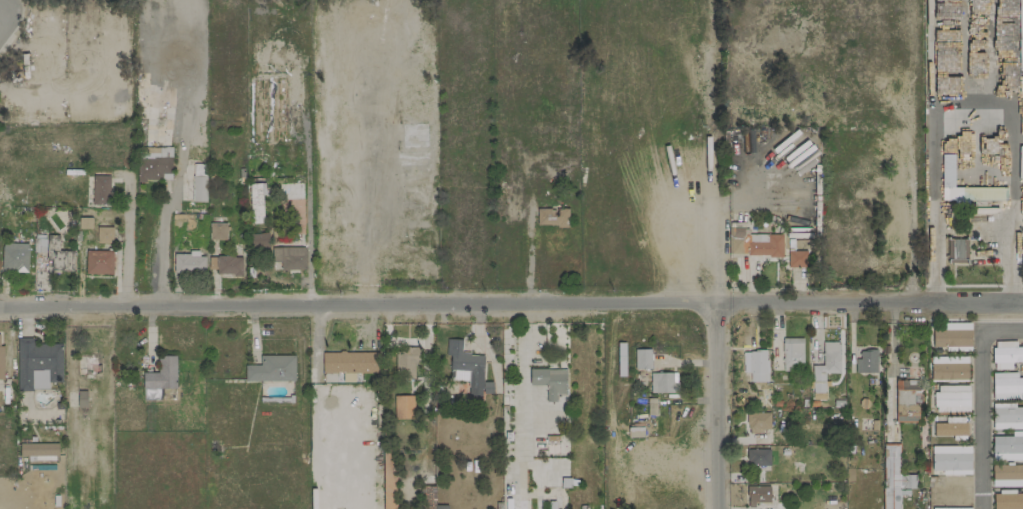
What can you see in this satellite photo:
building: (800, 129)
building: (154, 163)
road: (175, 182)
building: (199, 182)
building: (291, 188)
building: (101, 189)
building: (976, 193)
building: (256, 203)
building: (551, 217)
building: (896, 226)
building: (217, 231)
building: (104, 235)
building: (40, 243)
building: (754, 243)
building: (956, 250)
road: (720, 254)
building: (59, 255)
building: (14, 257)
building: (287, 257)
building: (797, 258)
building: (99, 262)
building: (189, 263)
building: (225, 265)
road: (511, 304)
building: (952, 337)
building: (792, 354)
building: (1006, 354)
building: (642, 359)
building: (1, 361)
building: (866, 361)
building: (37, 362)
building: (350, 362)
building: (405, 362)
building: (755, 365)
building: (825, 368)
building: (946, 368)
building: (272, 369)
building: (466, 369)
building: (161, 374)
building: (549, 381)
building: (663, 382)
building: (1006, 386)
building: (951, 398)
road: (979, 398)
building: (907, 402)
building: (403, 407)
building: (1007, 418)
building: (758, 422)
building: (1007, 447)
building: (38, 449)
building: (758, 457)
building: (949, 458)
building: (1007, 475)
building: (894, 477)
building: (953, 490)
building: (757, 494)
building: (1007, 499)
building: (441, 507)
building: (950, 508)

